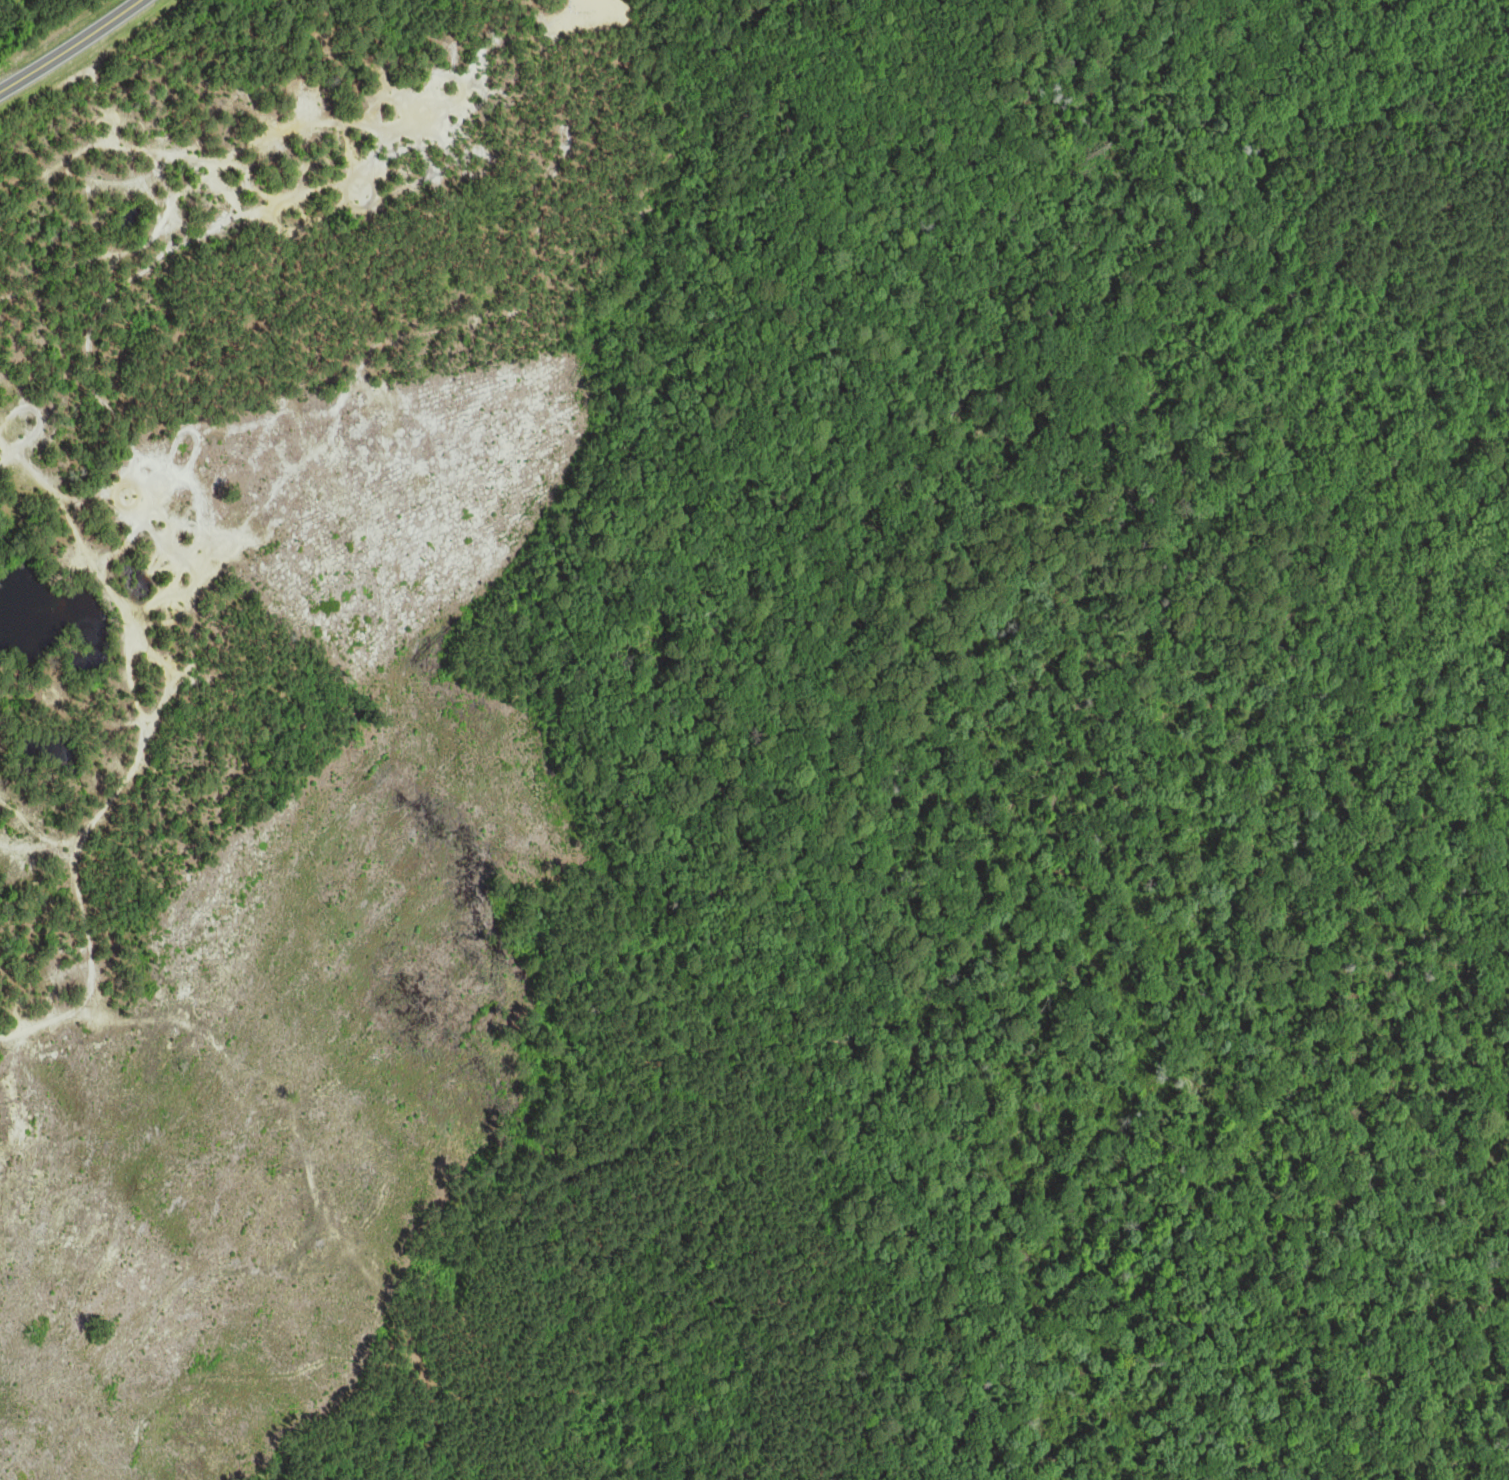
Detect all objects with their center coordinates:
road: (71, 47)

